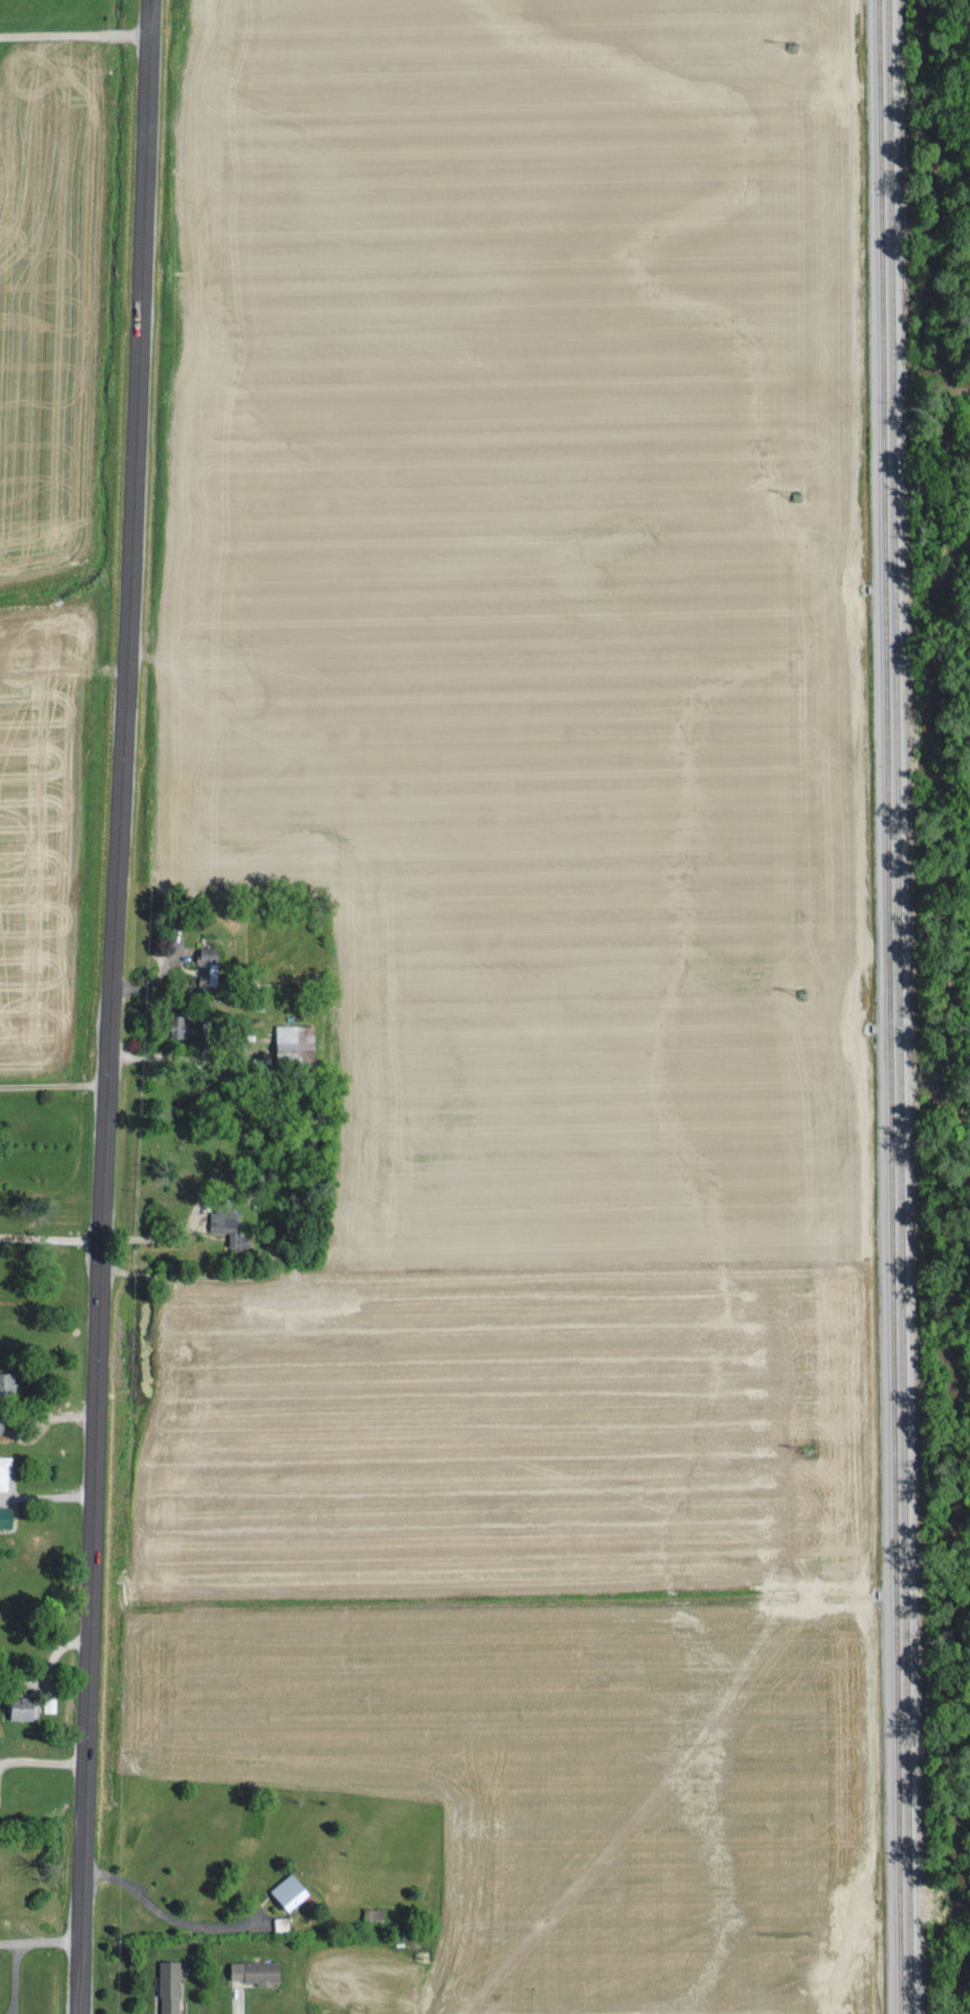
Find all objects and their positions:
building: (209, 964)
road: (108, 1006)
railway: (902, 1006)
building: (187, 1023)
road: (52, 1083)
building: (226, 1221)
building: (9, 1381)
building: (5, 1469)
building: (7, 1515)
building: (50, 1703)
building: (25, 1705)
building: (291, 1889)
road: (167, 1915)
road: (40, 1942)
building: (257, 1970)
building: (169, 1985)

